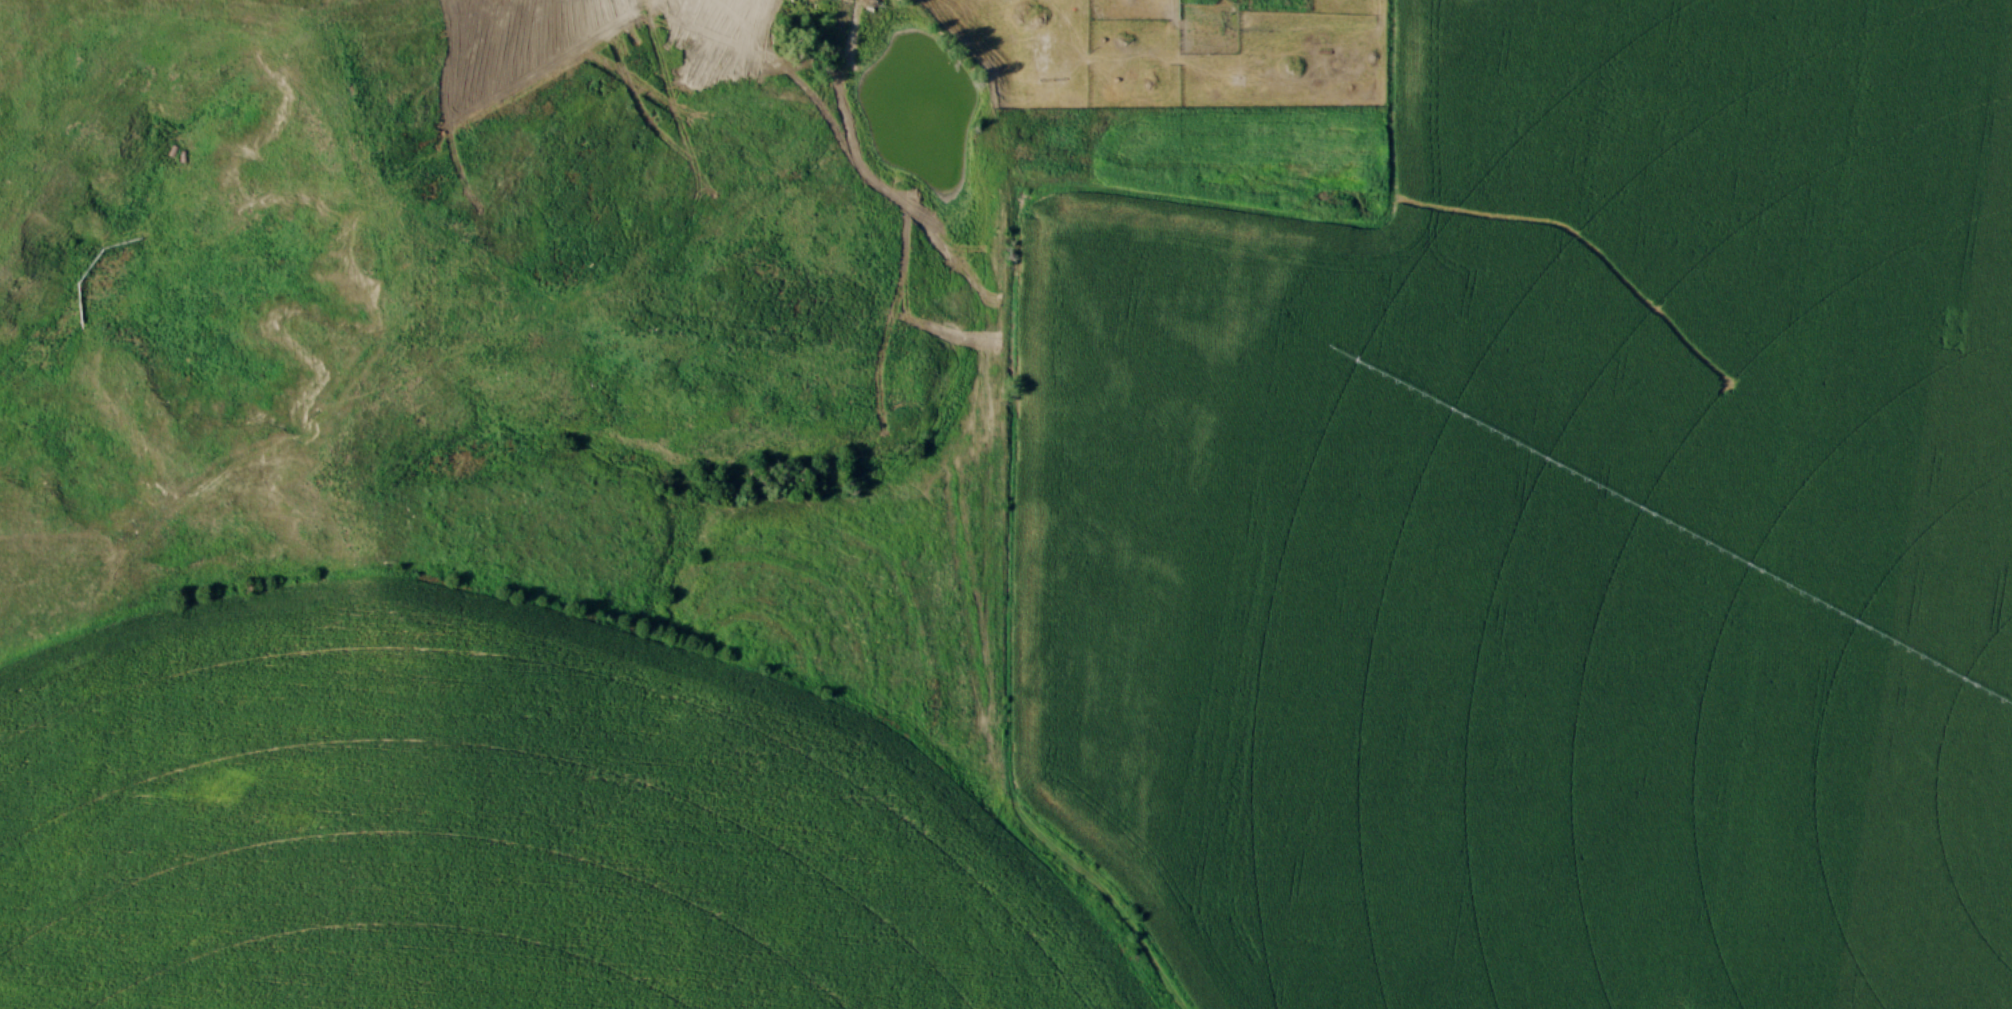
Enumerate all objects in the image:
building: (1135, 83)

